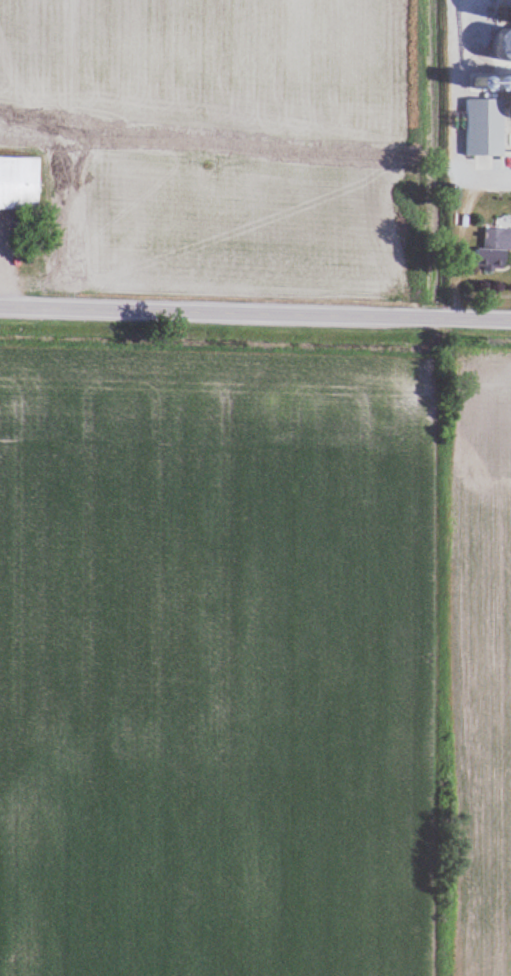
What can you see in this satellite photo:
building: (507, 43)
building: (510, 80)
road: (452, 113)
building: (486, 126)
building: (510, 145)
building: (494, 249)
road: (255, 315)

